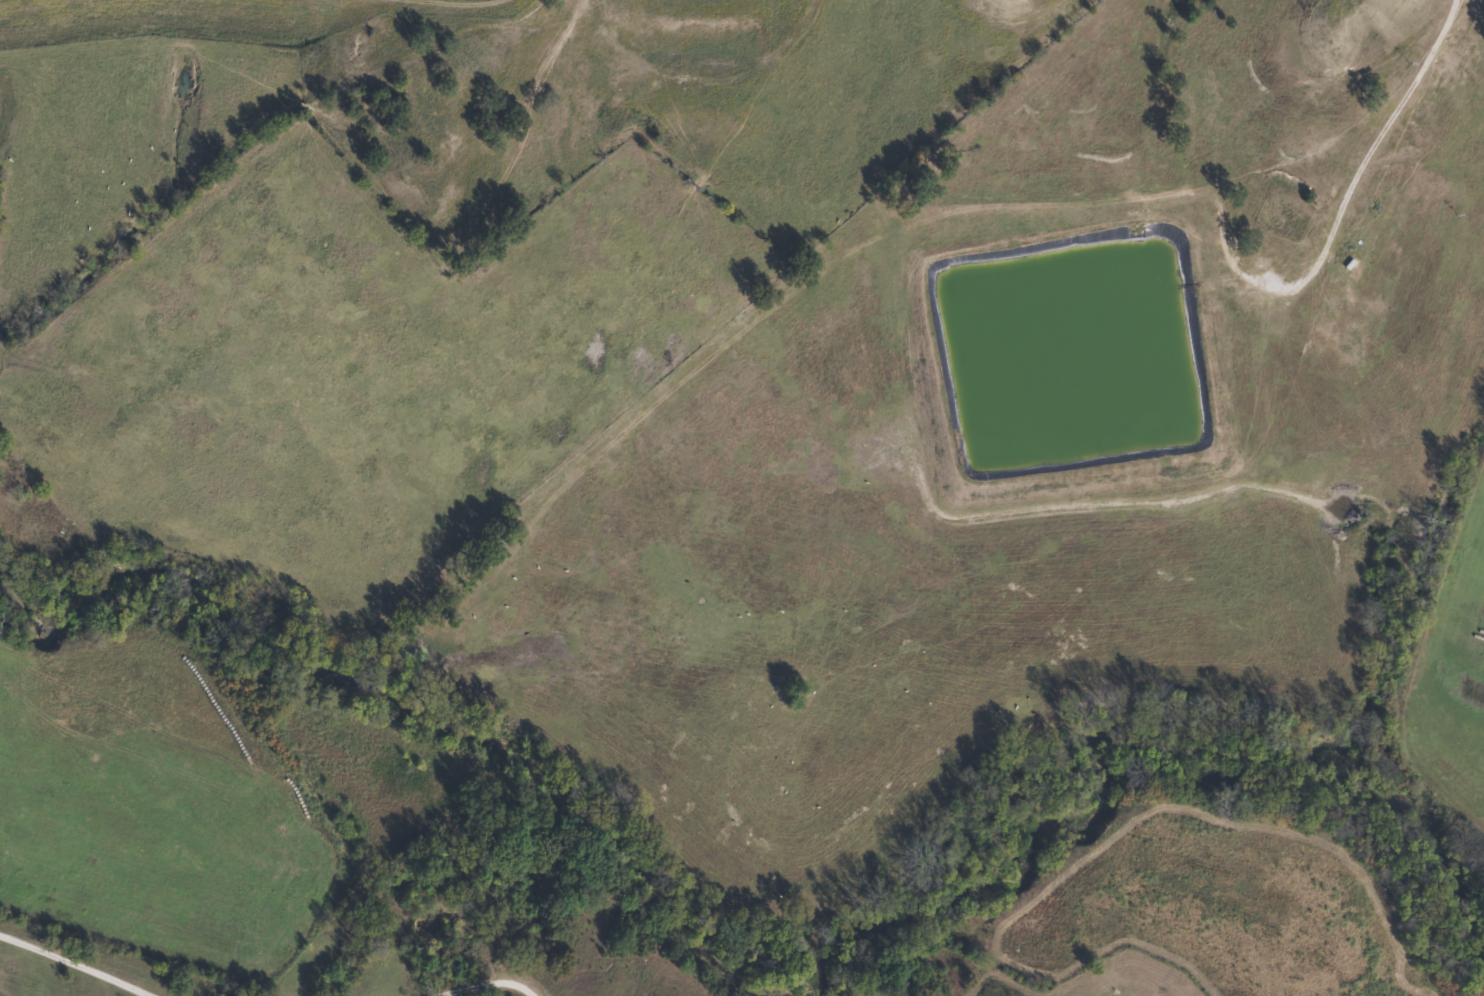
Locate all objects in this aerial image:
road: (1418, 134)

